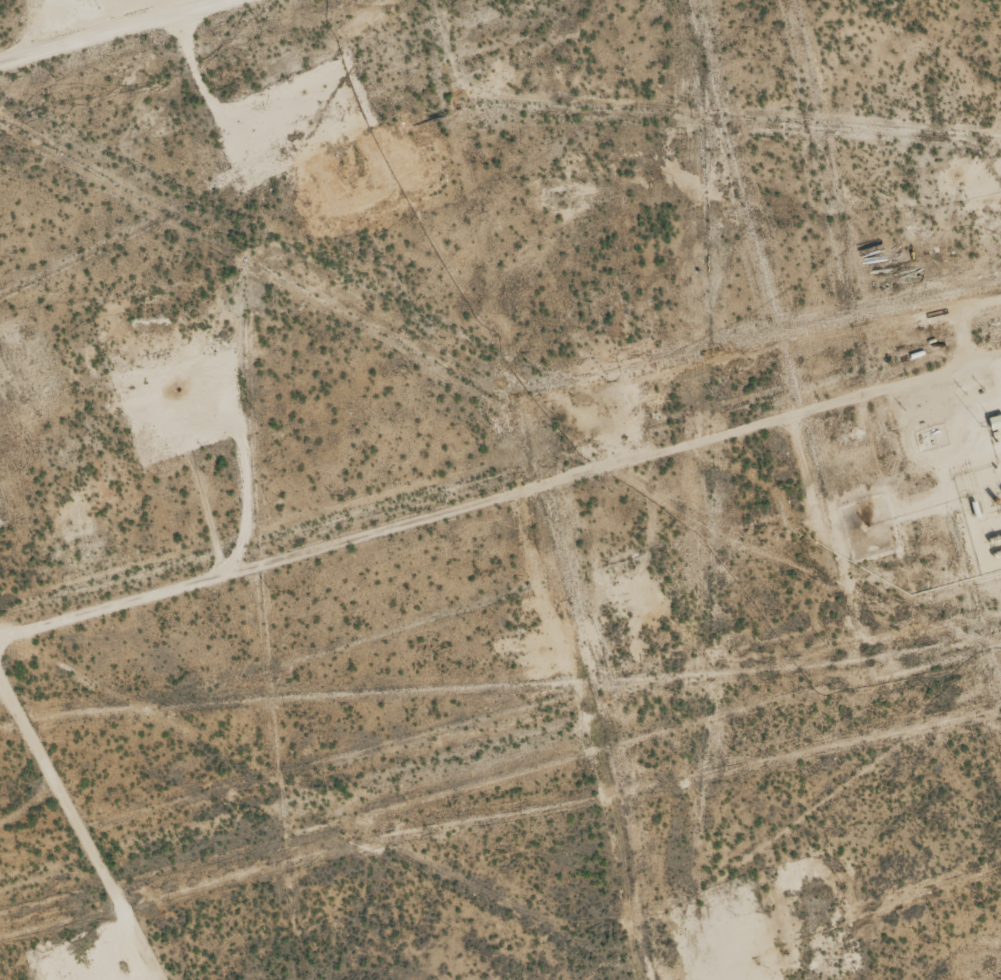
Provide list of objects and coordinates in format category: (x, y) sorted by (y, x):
road: (190, 54)
road: (51, 886)

